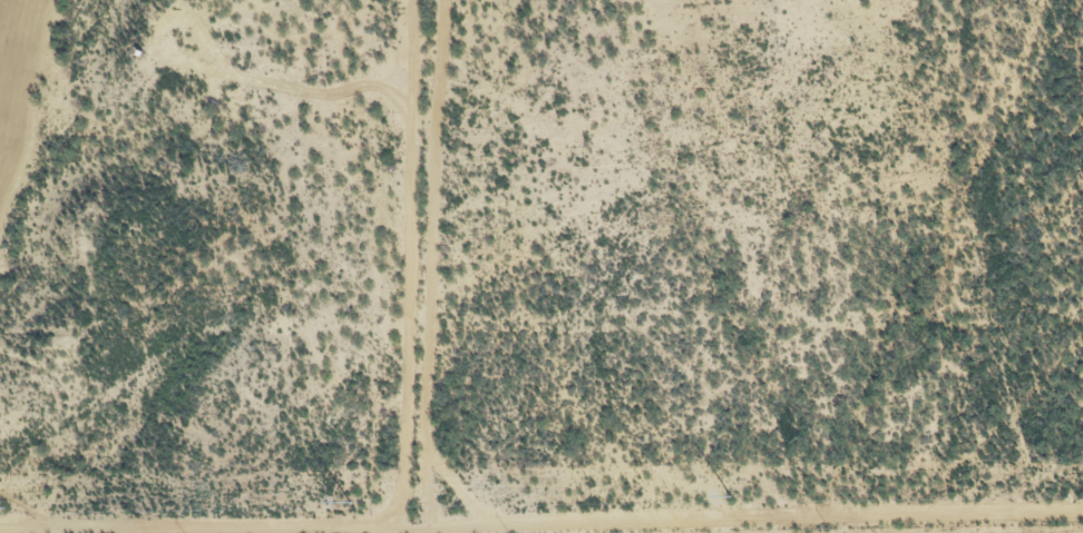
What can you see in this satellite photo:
power tower: (730, 497)
power tower: (349, 503)
power tower: (3, 507)

